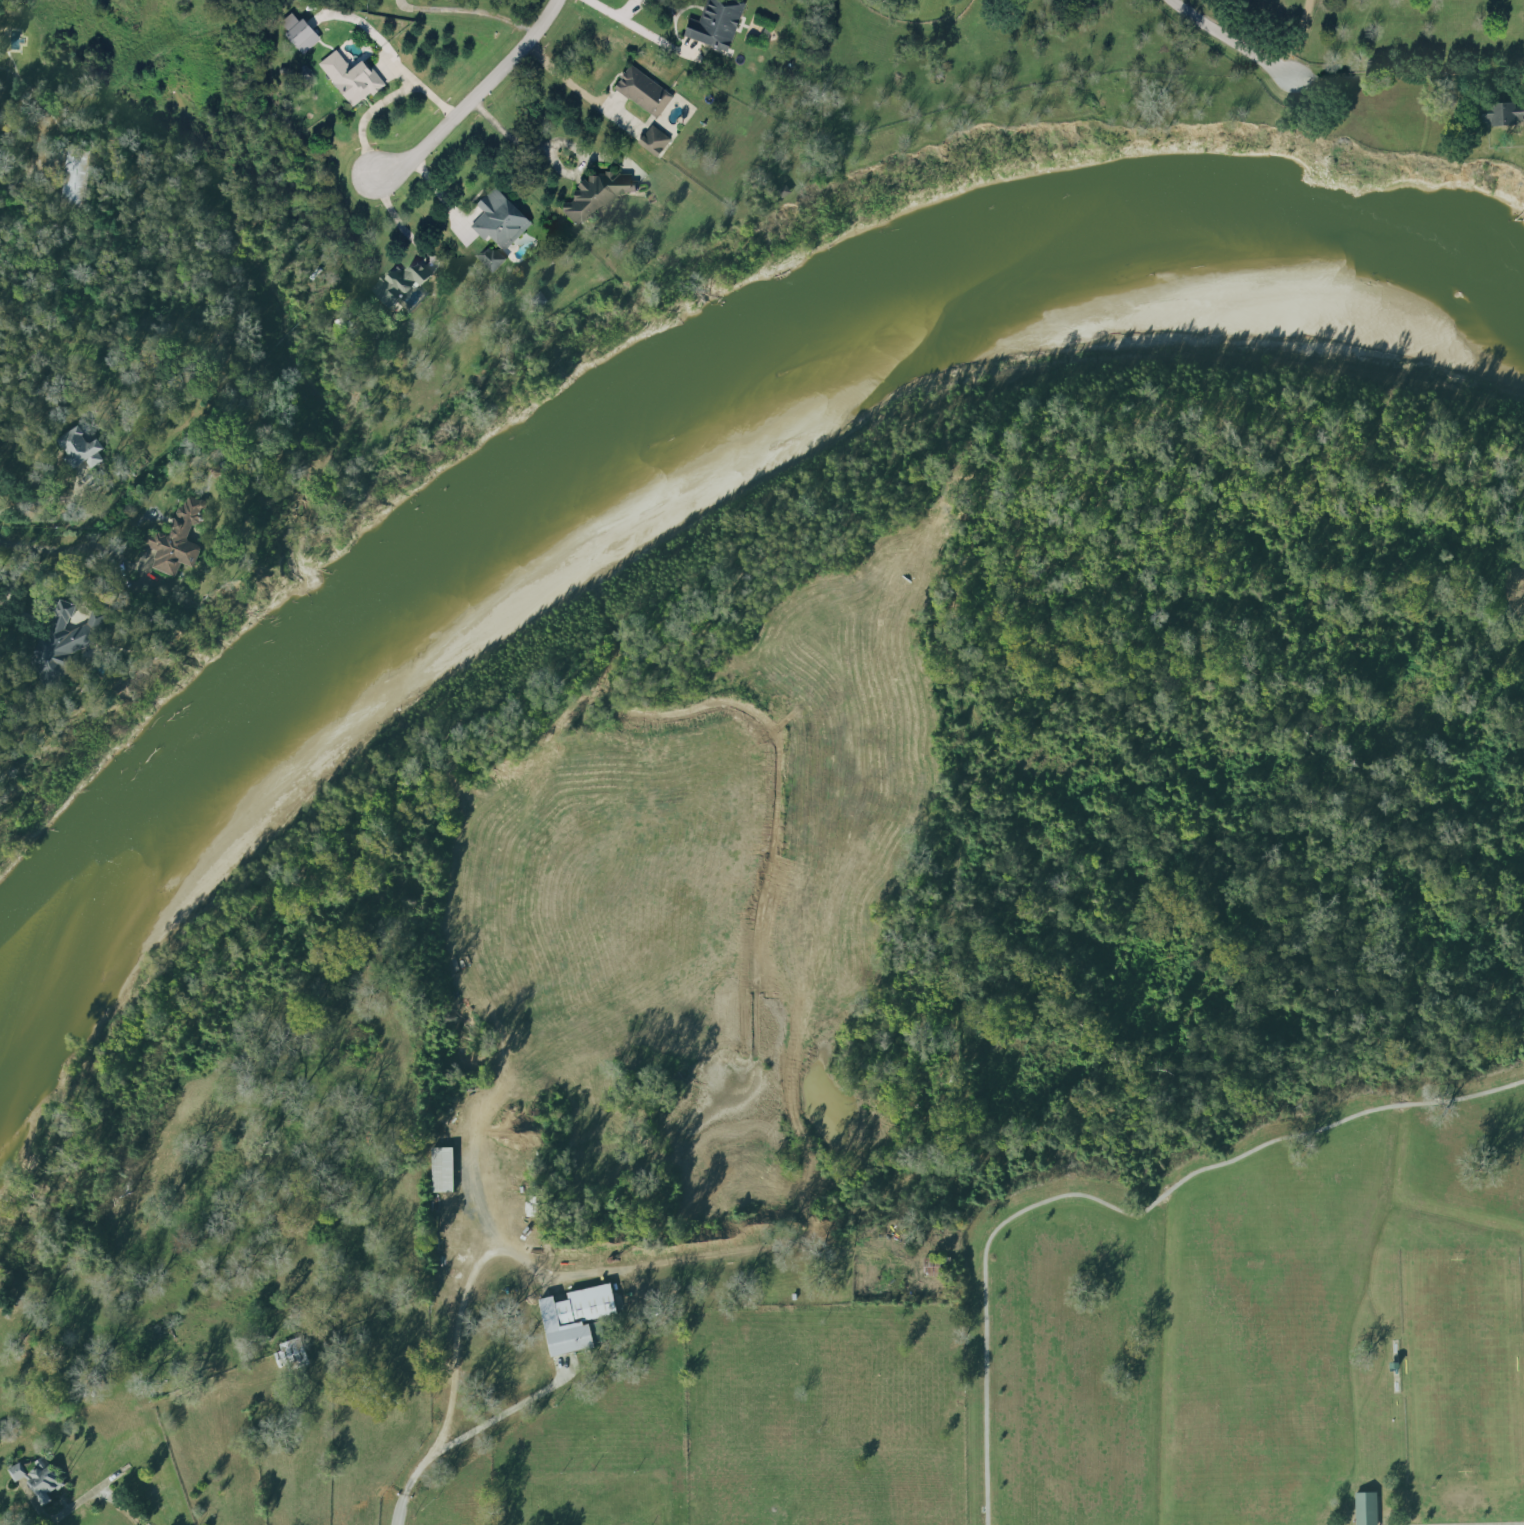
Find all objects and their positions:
road: (628, 7)
road: (468, 10)
building: (715, 22)
road: (641, 26)
building: (298, 29)
road: (1293, 34)
road: (1231, 37)
road: (1407, 72)
building: (351, 74)
road: (565, 77)
road: (416, 82)
building: (642, 88)
road: (469, 92)
building: (1503, 115)
road: (361, 116)
road: (511, 133)
building: (652, 137)
building: (75, 180)
building: (597, 193)
building: (498, 216)
road: (397, 220)
building: (490, 258)
building: (398, 283)
river: (659, 389)
building: (81, 447)
building: (177, 540)
road: (60, 550)
road: (17, 612)
building: (66, 642)
building: (443, 1170)
road: (1119, 1209)
building: (576, 1319)
road: (459, 1328)
building: (292, 1355)
park: (1461, 1365)
road: (500, 1417)
building: (17, 1472)
building: (45, 1482)
road: (120, 1507)
building: (1366, 1509)
road: (404, 1515)
road: (141, 1524)
road: (1522, 1524)

